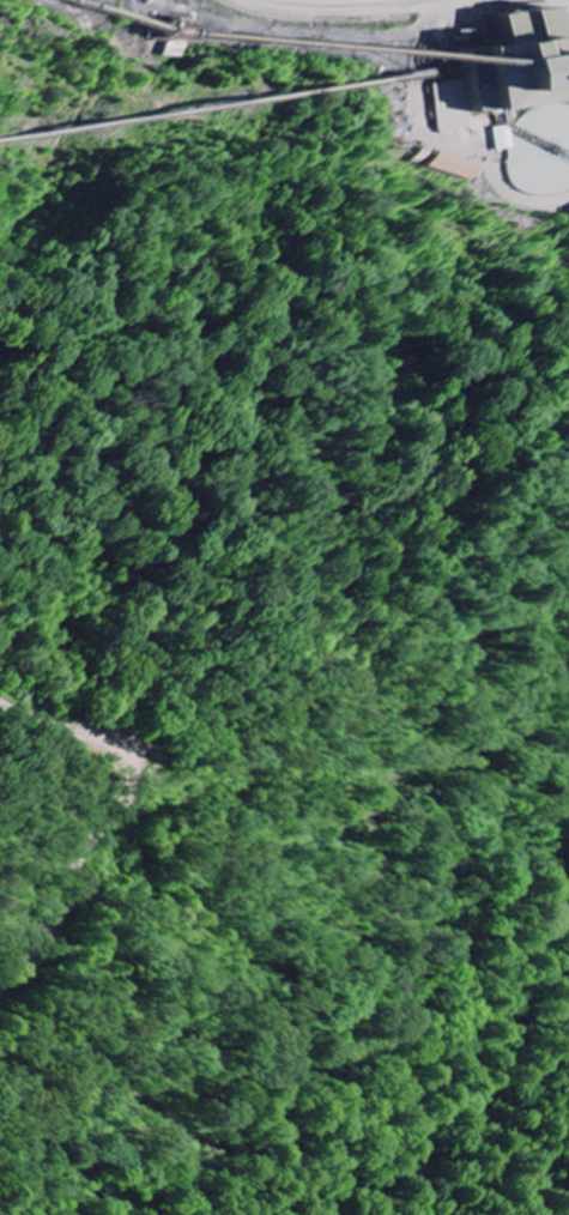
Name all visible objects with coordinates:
road: (353, 53)
building: (497, 74)
building: (539, 150)

